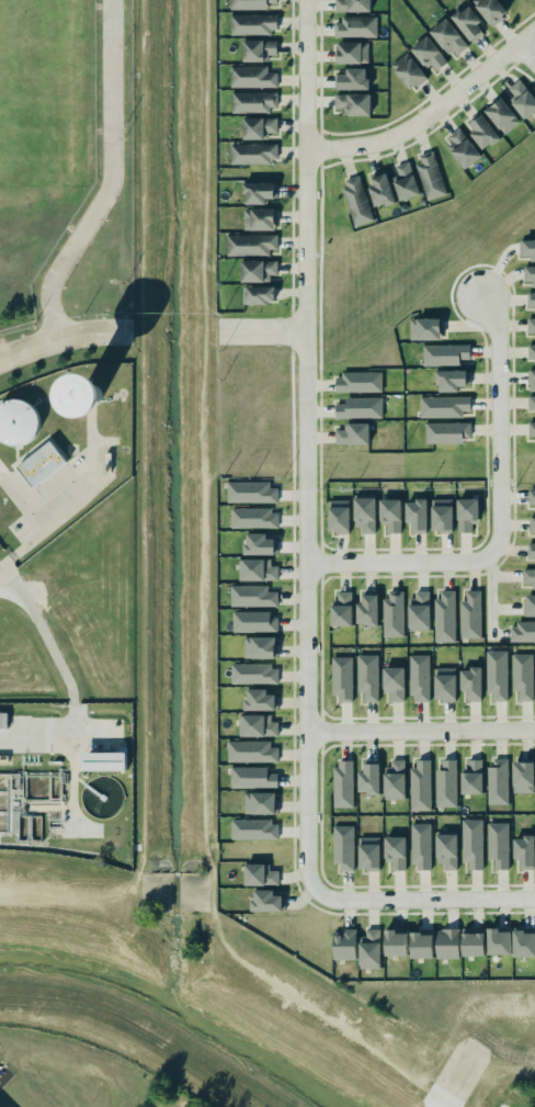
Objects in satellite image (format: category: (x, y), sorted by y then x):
building: (248, 3)
building: (351, 4)
building: (491, 10)
building: (251, 23)
building: (468, 23)
building: (354, 27)
building: (448, 37)
building: (258, 49)
building: (351, 52)
building: (430, 54)
road: (526, 54)
building: (410, 74)
building: (250, 76)
building: (352, 79)
park: (44, 88)
building: (522, 99)
building: (253, 101)
building: (352, 104)
road: (430, 113)
building: (502, 116)
building: (258, 127)
building: (482, 131)
building: (463, 147)
building: (252, 154)
building: (430, 174)
road: (111, 179)
building: (405, 180)
building: (380, 189)
building: (259, 192)
building: (356, 201)
building: (259, 218)
building: (250, 245)
building: (528, 248)
building: (257, 270)
building: (528, 274)
building: (259, 294)
building: (531, 302)
building: (531, 325)
building: (425, 328)
road: (261, 331)
road: (69, 337)
building: (444, 353)
building: (531, 353)
road: (7, 357)
road: (7, 358)
building: (451, 380)
building: (532, 380)
building: (357, 382)
water tower: (81, 394)
building: (443, 406)
building: (532, 406)
building: (360, 407)
building: (18, 423)
road: (493, 426)
building: (531, 428)
building: (447, 432)
building: (351, 433)
road: (305, 447)
building: (41, 464)
building: (250, 492)
building: (531, 497)
road: (75, 506)
building: (364, 513)
building: (466, 513)
building: (390, 515)
building: (417, 515)
building: (441, 515)
building: (338, 516)
building: (253, 518)
building: (533, 526)
building: (259, 544)
building: (531, 552)
road: (395, 563)
building: (258, 569)
building: (528, 577)
road: (485, 592)
building: (251, 596)
building: (530, 605)
building: (341, 609)
building: (367, 609)
building: (419, 611)
building: (392, 613)
building: (470, 615)
building: (444, 617)
building: (254, 622)
building: (522, 631)
building: (259, 647)
building: (253, 674)
building: (497, 675)
building: (522, 675)
building: (367, 676)
building: (419, 677)
building: (342, 678)
building: (394, 682)
building: (470, 682)
building: (444, 684)
road: (70, 691)
building: (259, 700)
building: (3, 720)
building: (258, 725)
road: (420, 731)
road: (36, 738)
building: (251, 752)
building: (103, 760)
building: (252, 777)
building: (522, 777)
building: (368, 778)
building: (471, 778)
building: (394, 779)
wastewater plant: (67, 781)
building: (497, 781)
building: (342, 783)
building: (445, 783)
building: (420, 786)
building: (1, 800)
building: (260, 802)
road: (35, 812)
building: (253, 829)
building: (471, 843)
building: (498, 844)
building: (420, 846)
building: (342, 847)
building: (524, 850)
building: (395, 851)
building: (446, 851)
building: (368, 852)
building: (259, 874)
road: (423, 900)
building: (266, 901)
building: (498, 940)
building: (471, 941)
building: (523, 941)
building: (395, 942)
building: (446, 942)
building: (343, 944)
building: (421, 944)
building: (368, 949)

